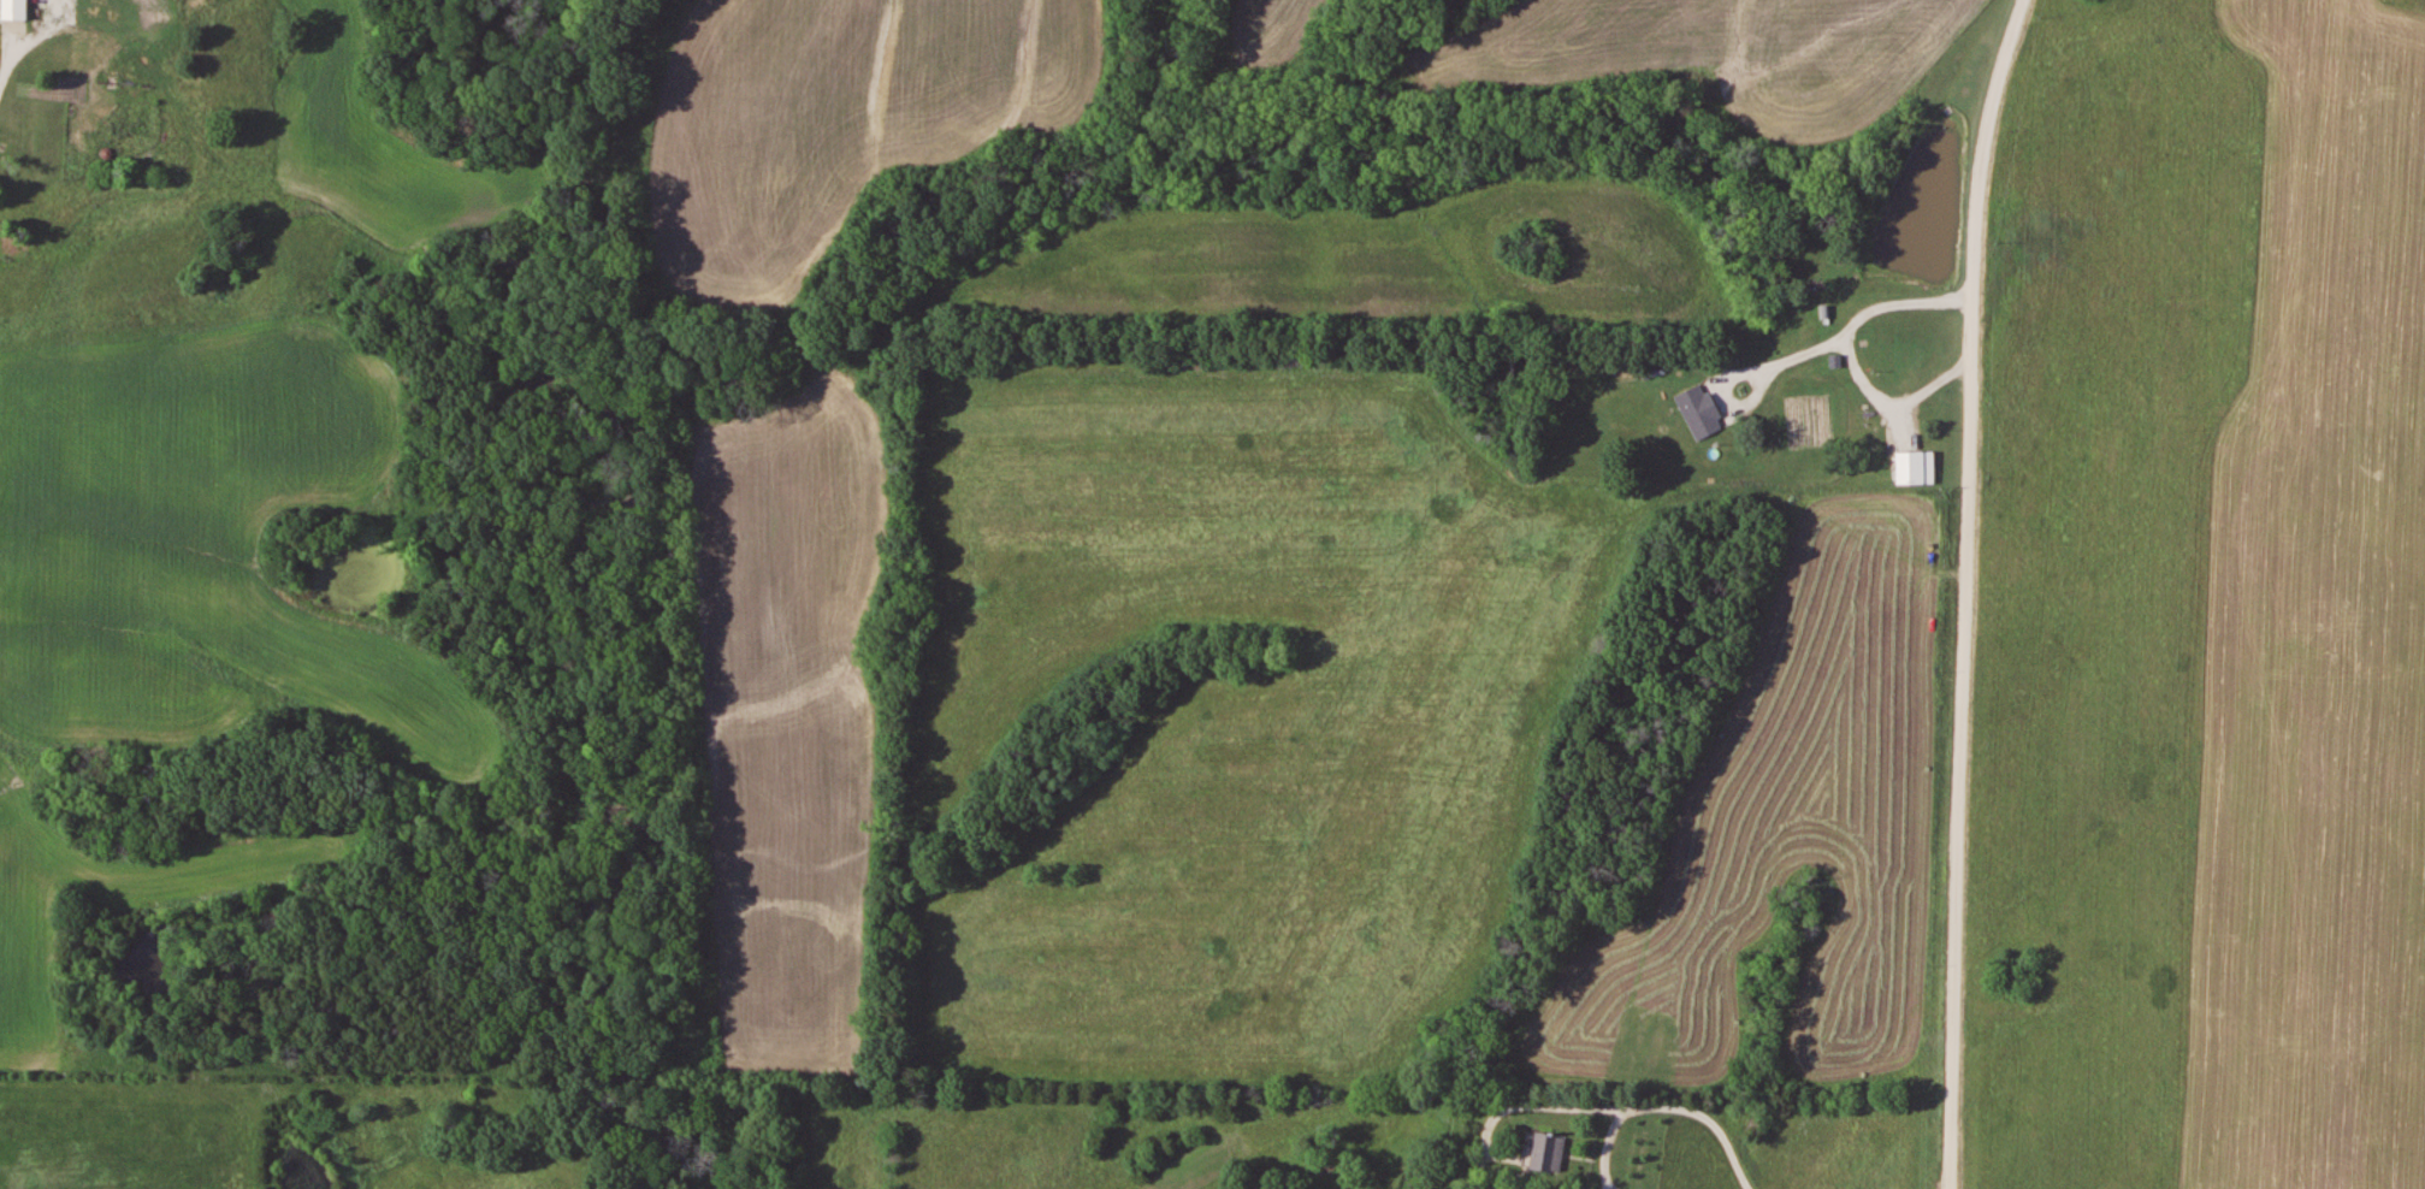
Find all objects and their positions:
building: (16, 10)
building: (32, 83)
building: (75, 140)
building: (1701, 412)
building: (1915, 468)
road: (1965, 591)
building: (1548, 1153)

